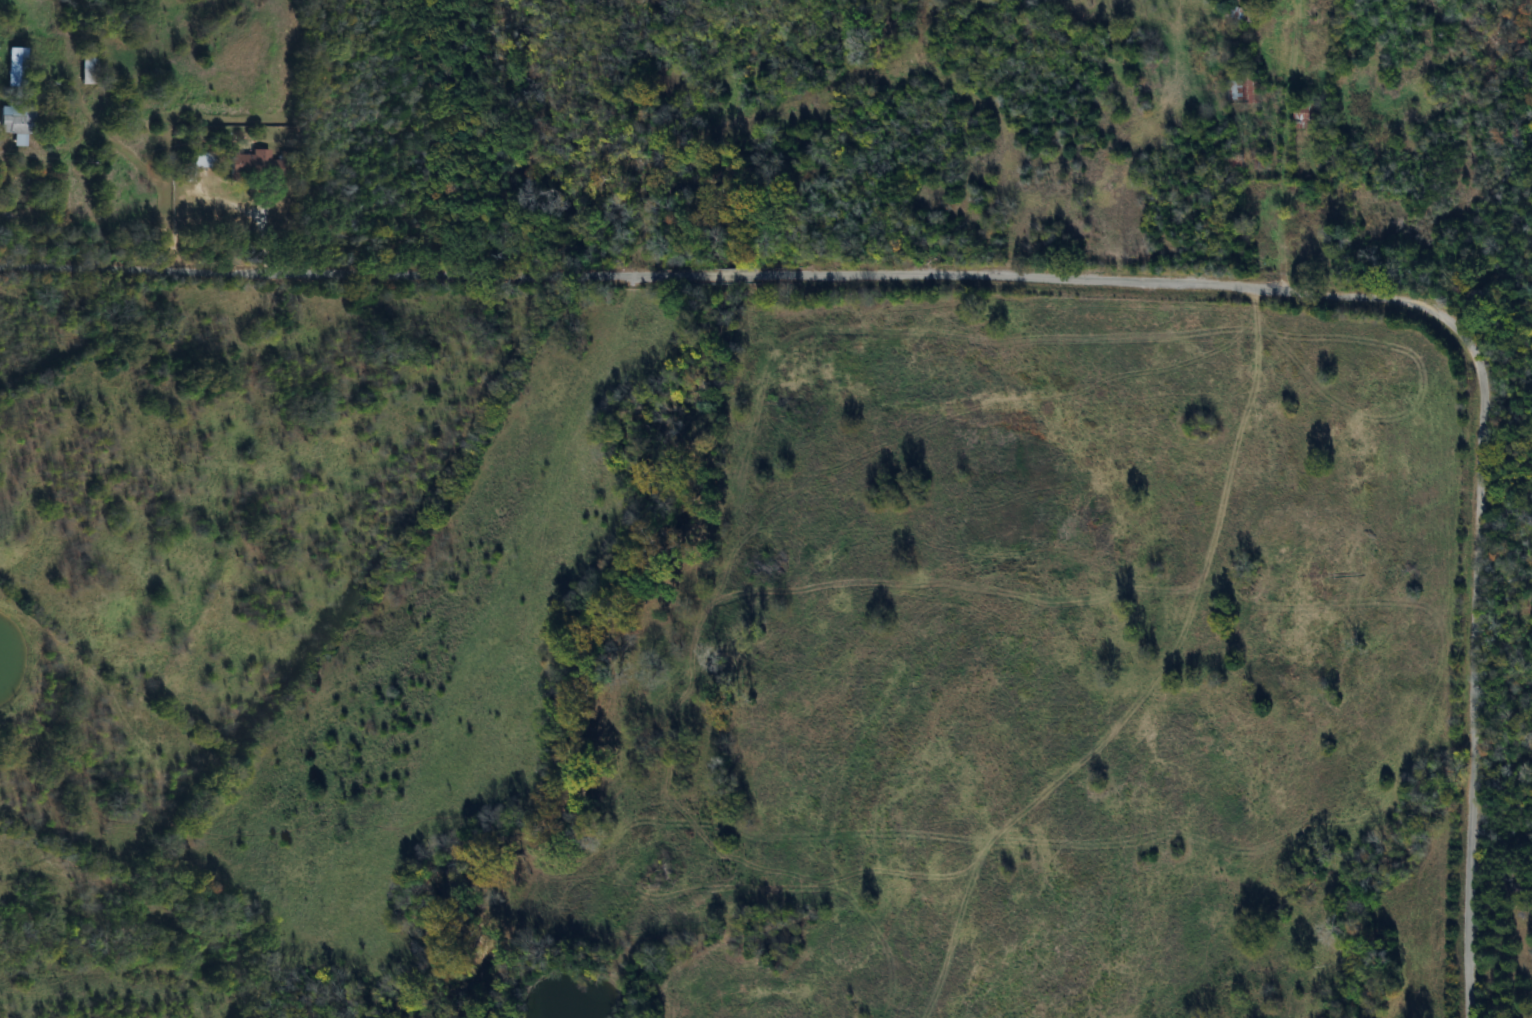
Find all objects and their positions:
building: (14, 66)
building: (87, 68)
building: (1242, 91)
building: (15, 124)
building: (198, 159)
building: (1234, 161)
building: (252, 165)
road: (43, 181)
road: (262, 228)
road: (735, 275)
road: (1475, 672)

